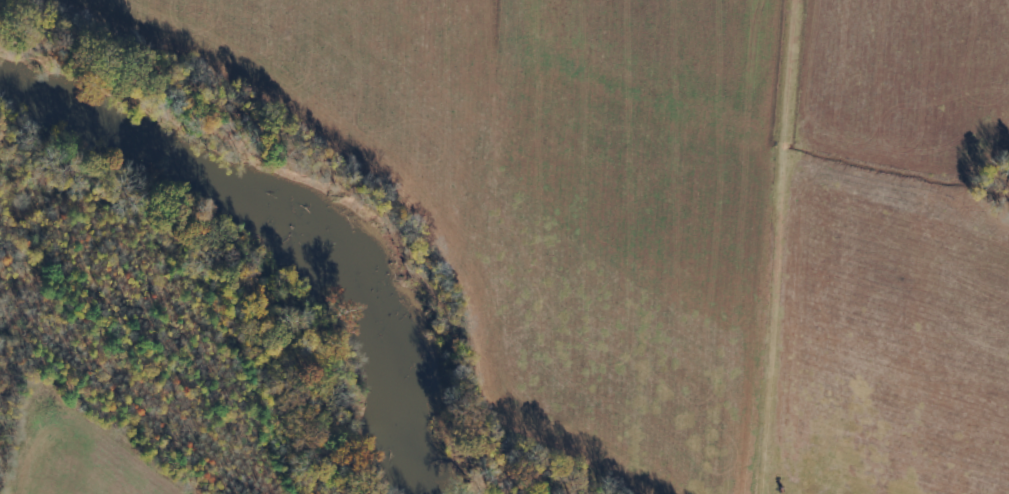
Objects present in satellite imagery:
river: (289, 223)

